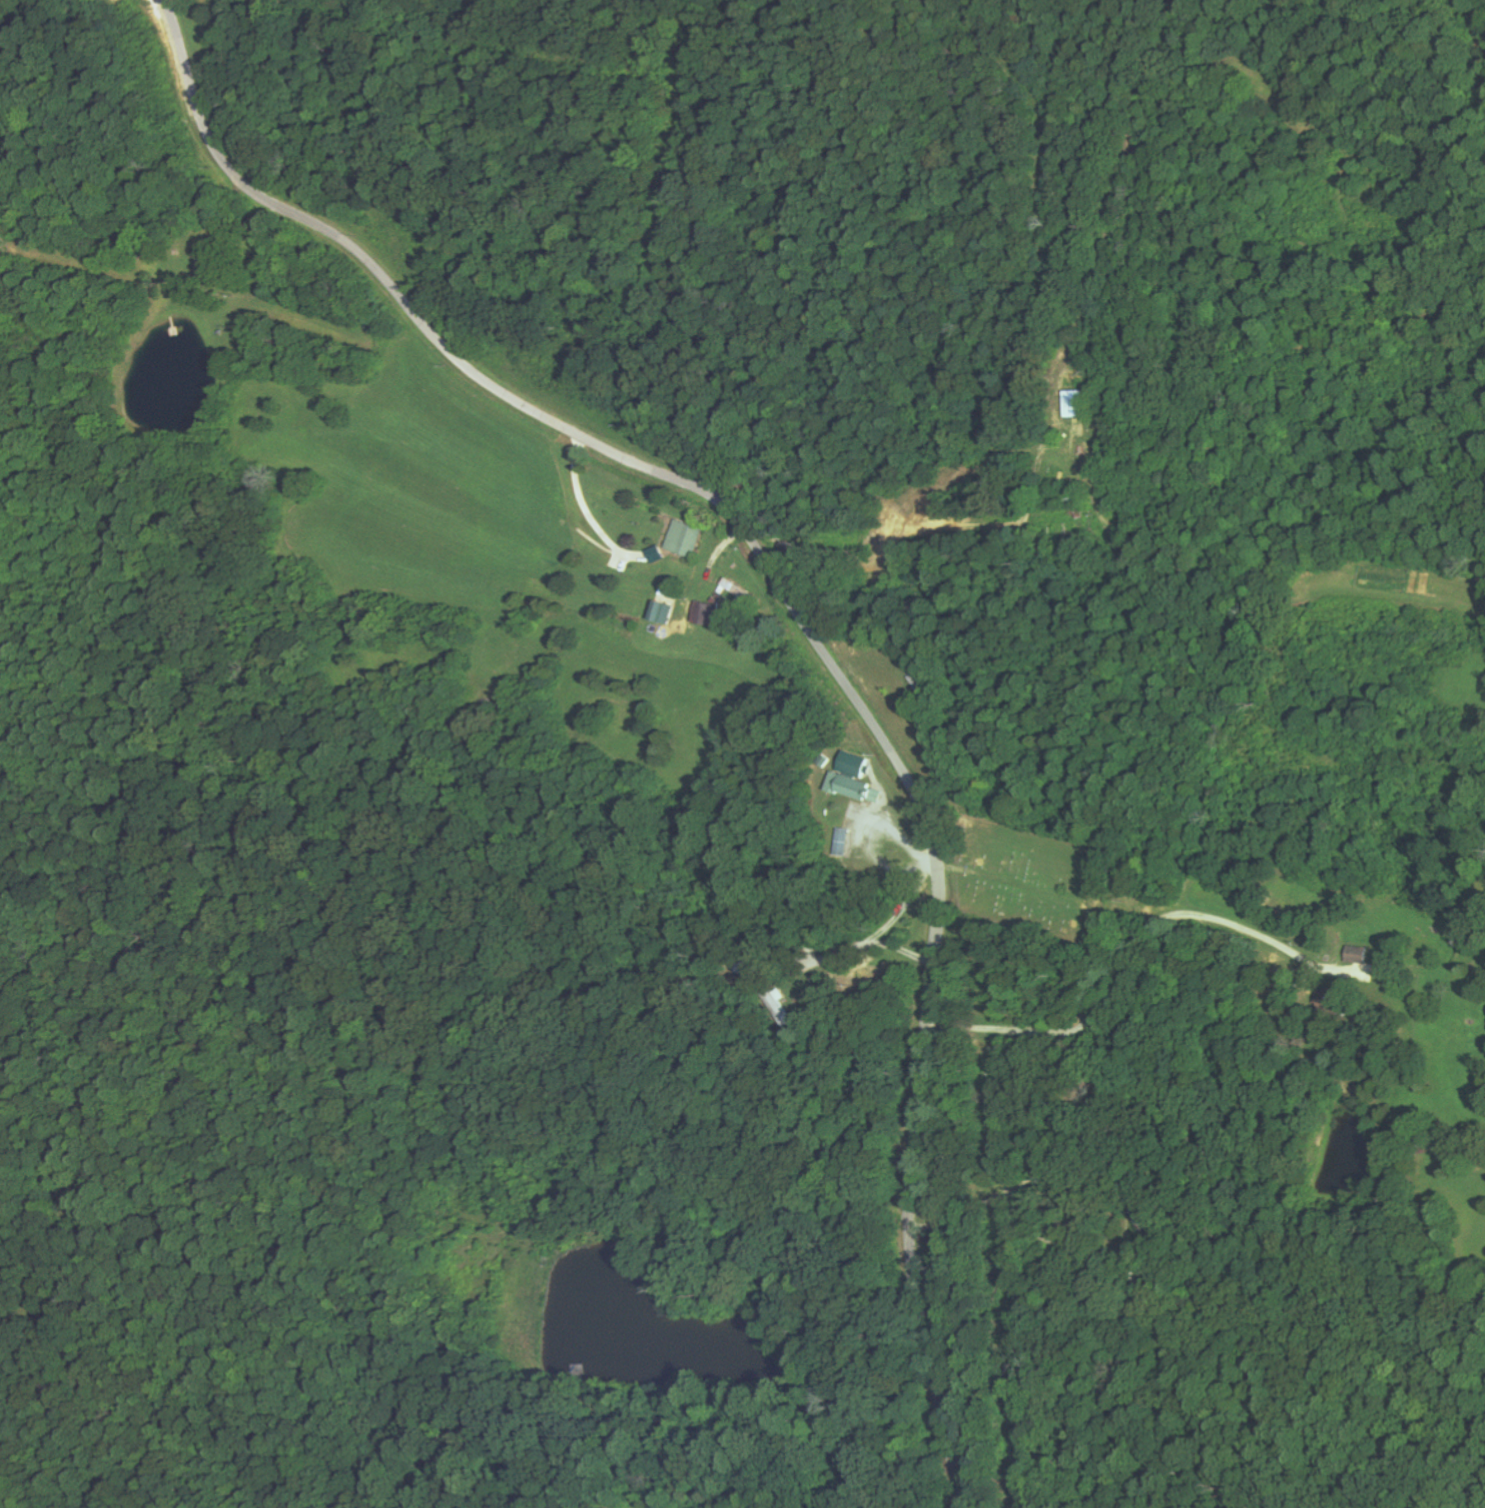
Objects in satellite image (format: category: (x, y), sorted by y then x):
road: (522, 192)
building: (686, 537)
building: (741, 588)
building: (668, 610)
building: (710, 611)
road: (806, 621)
building: (860, 777)
park: (1028, 878)
road: (1170, 953)

